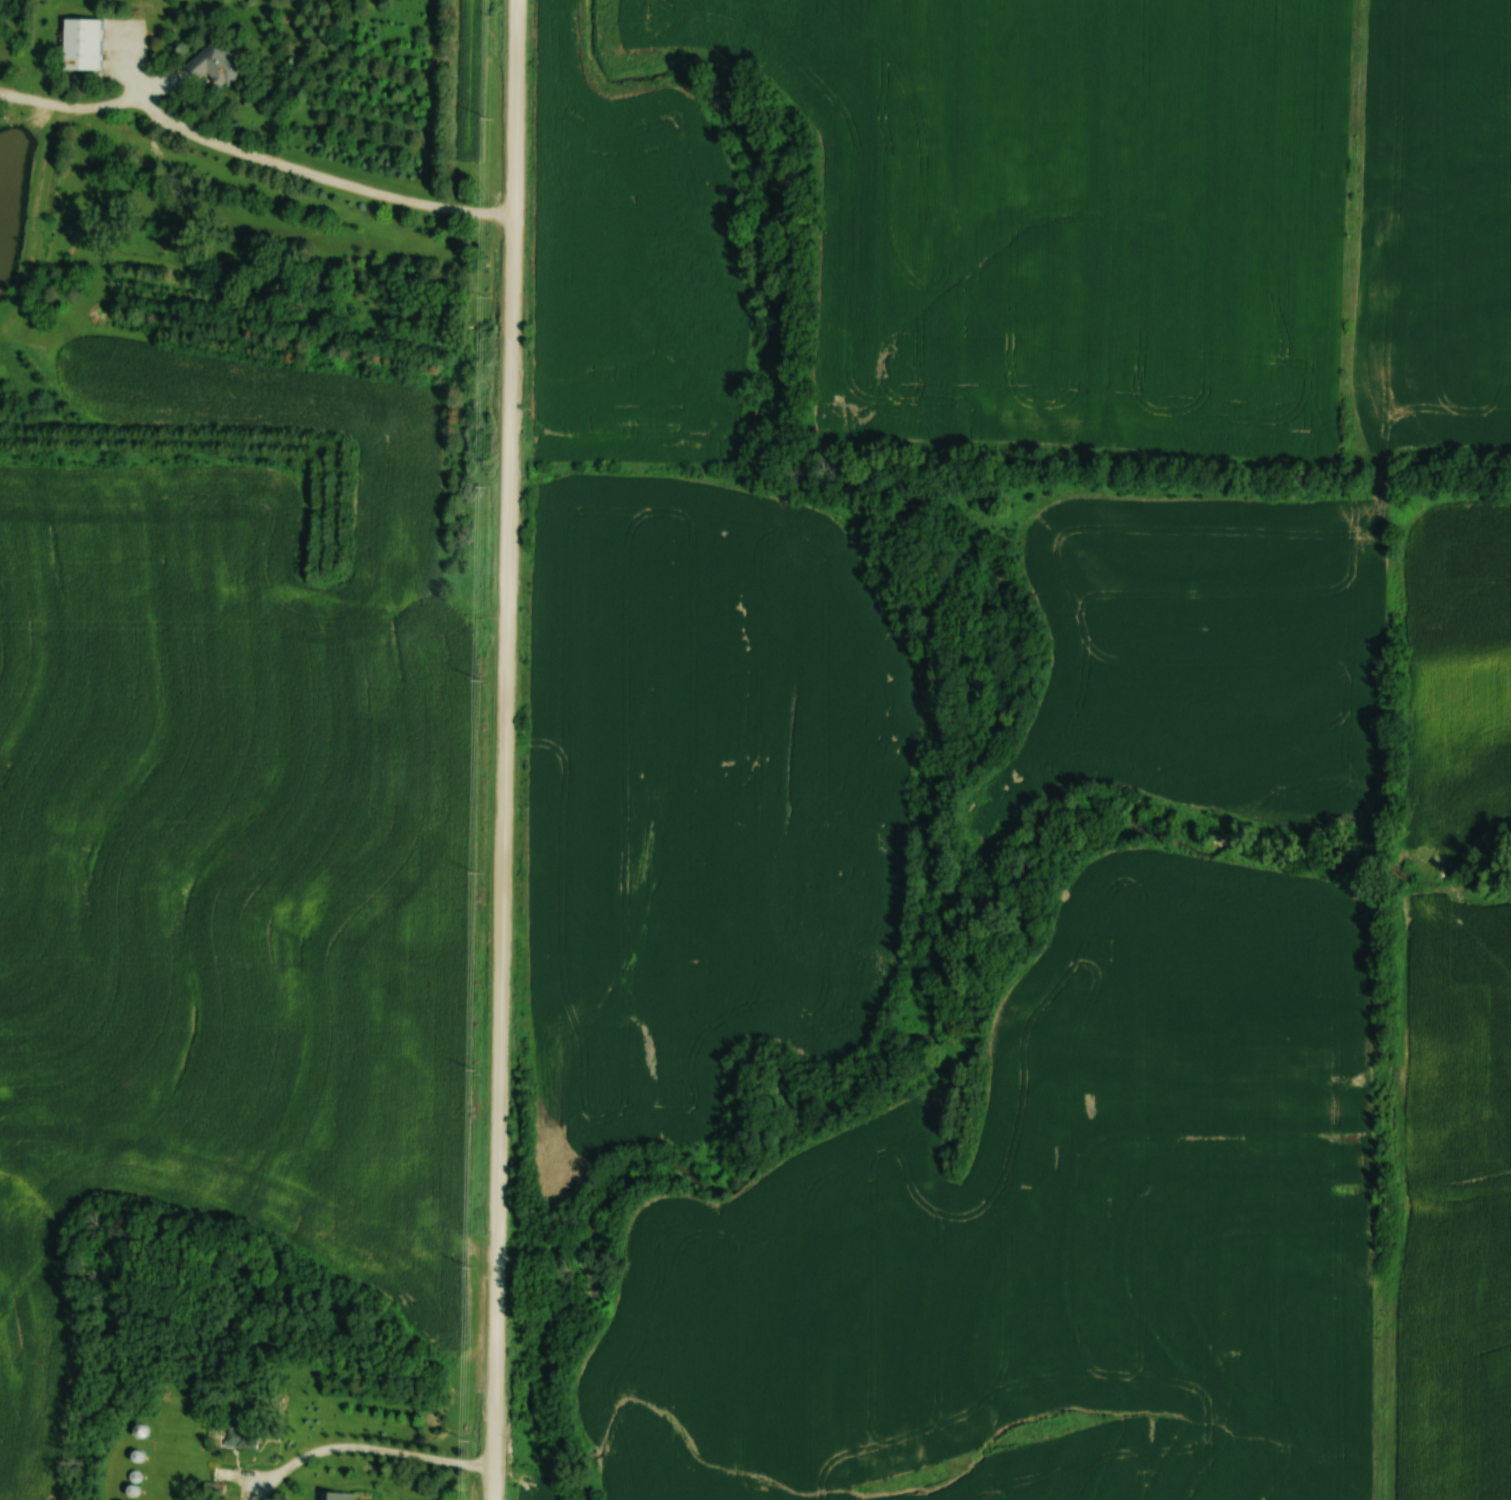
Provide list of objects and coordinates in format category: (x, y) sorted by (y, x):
building: (79, 44)
building: (212, 65)
road: (504, 750)
building: (137, 1430)
building: (236, 1436)
building: (221, 1473)
building: (334, 1495)

